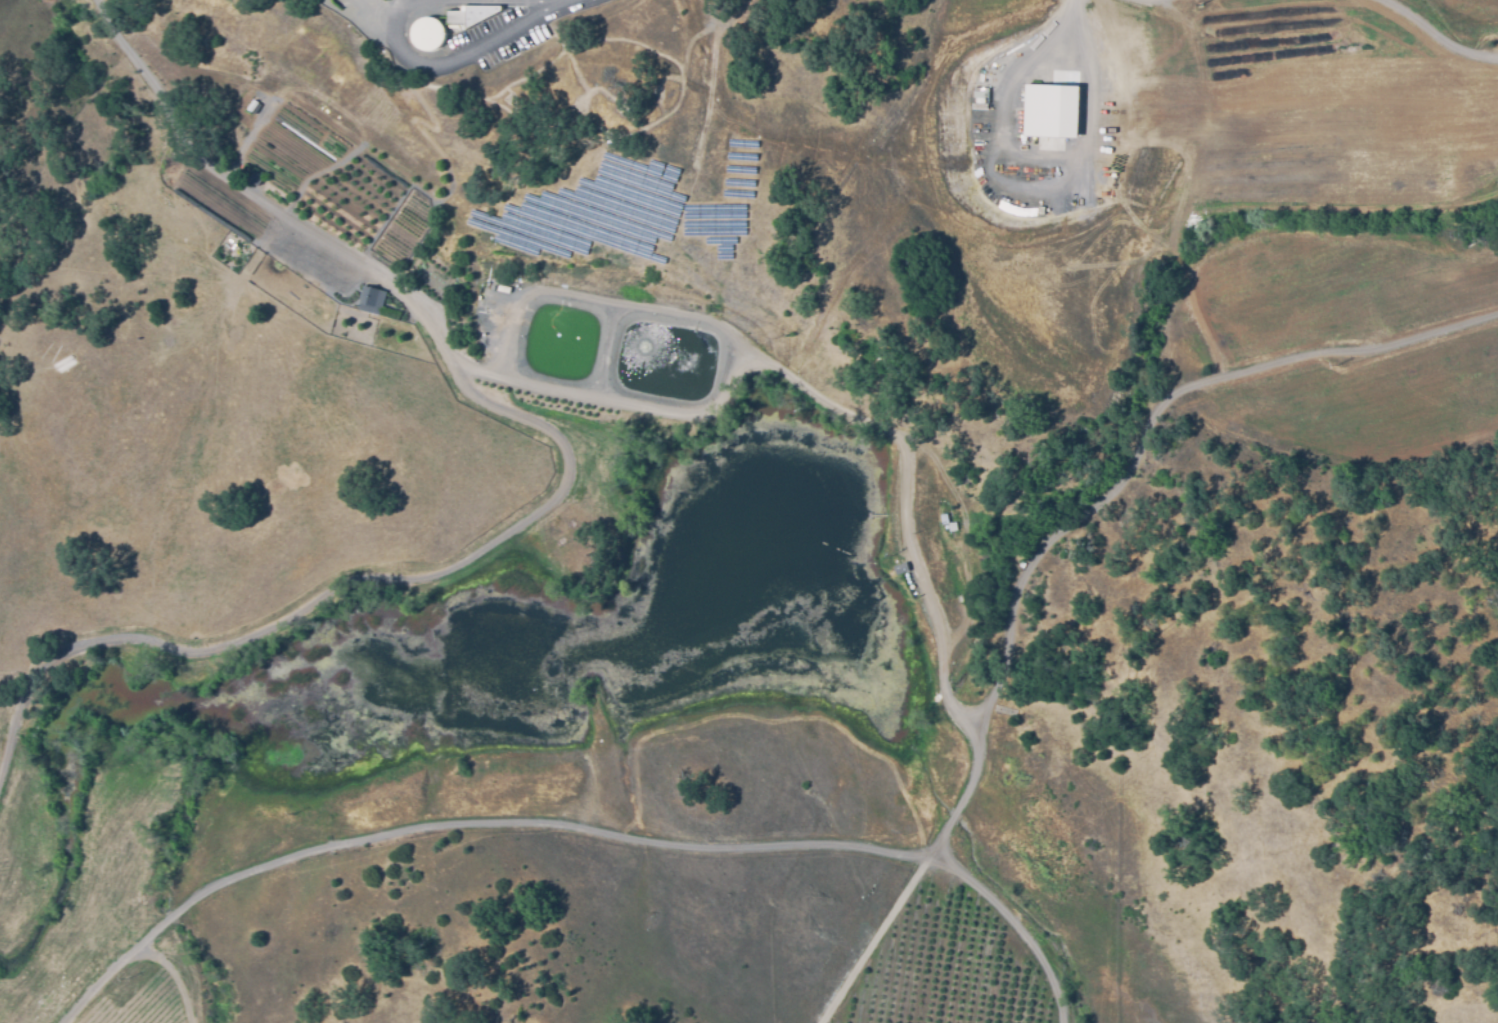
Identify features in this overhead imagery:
building: (470, 14)
building: (428, 33)
road: (464, 48)
building: (252, 104)
building: (1049, 111)
building: (257, 180)
building: (503, 288)
building: (368, 300)
road: (743, 367)
building: (943, 519)
building: (951, 526)
building: (901, 567)

